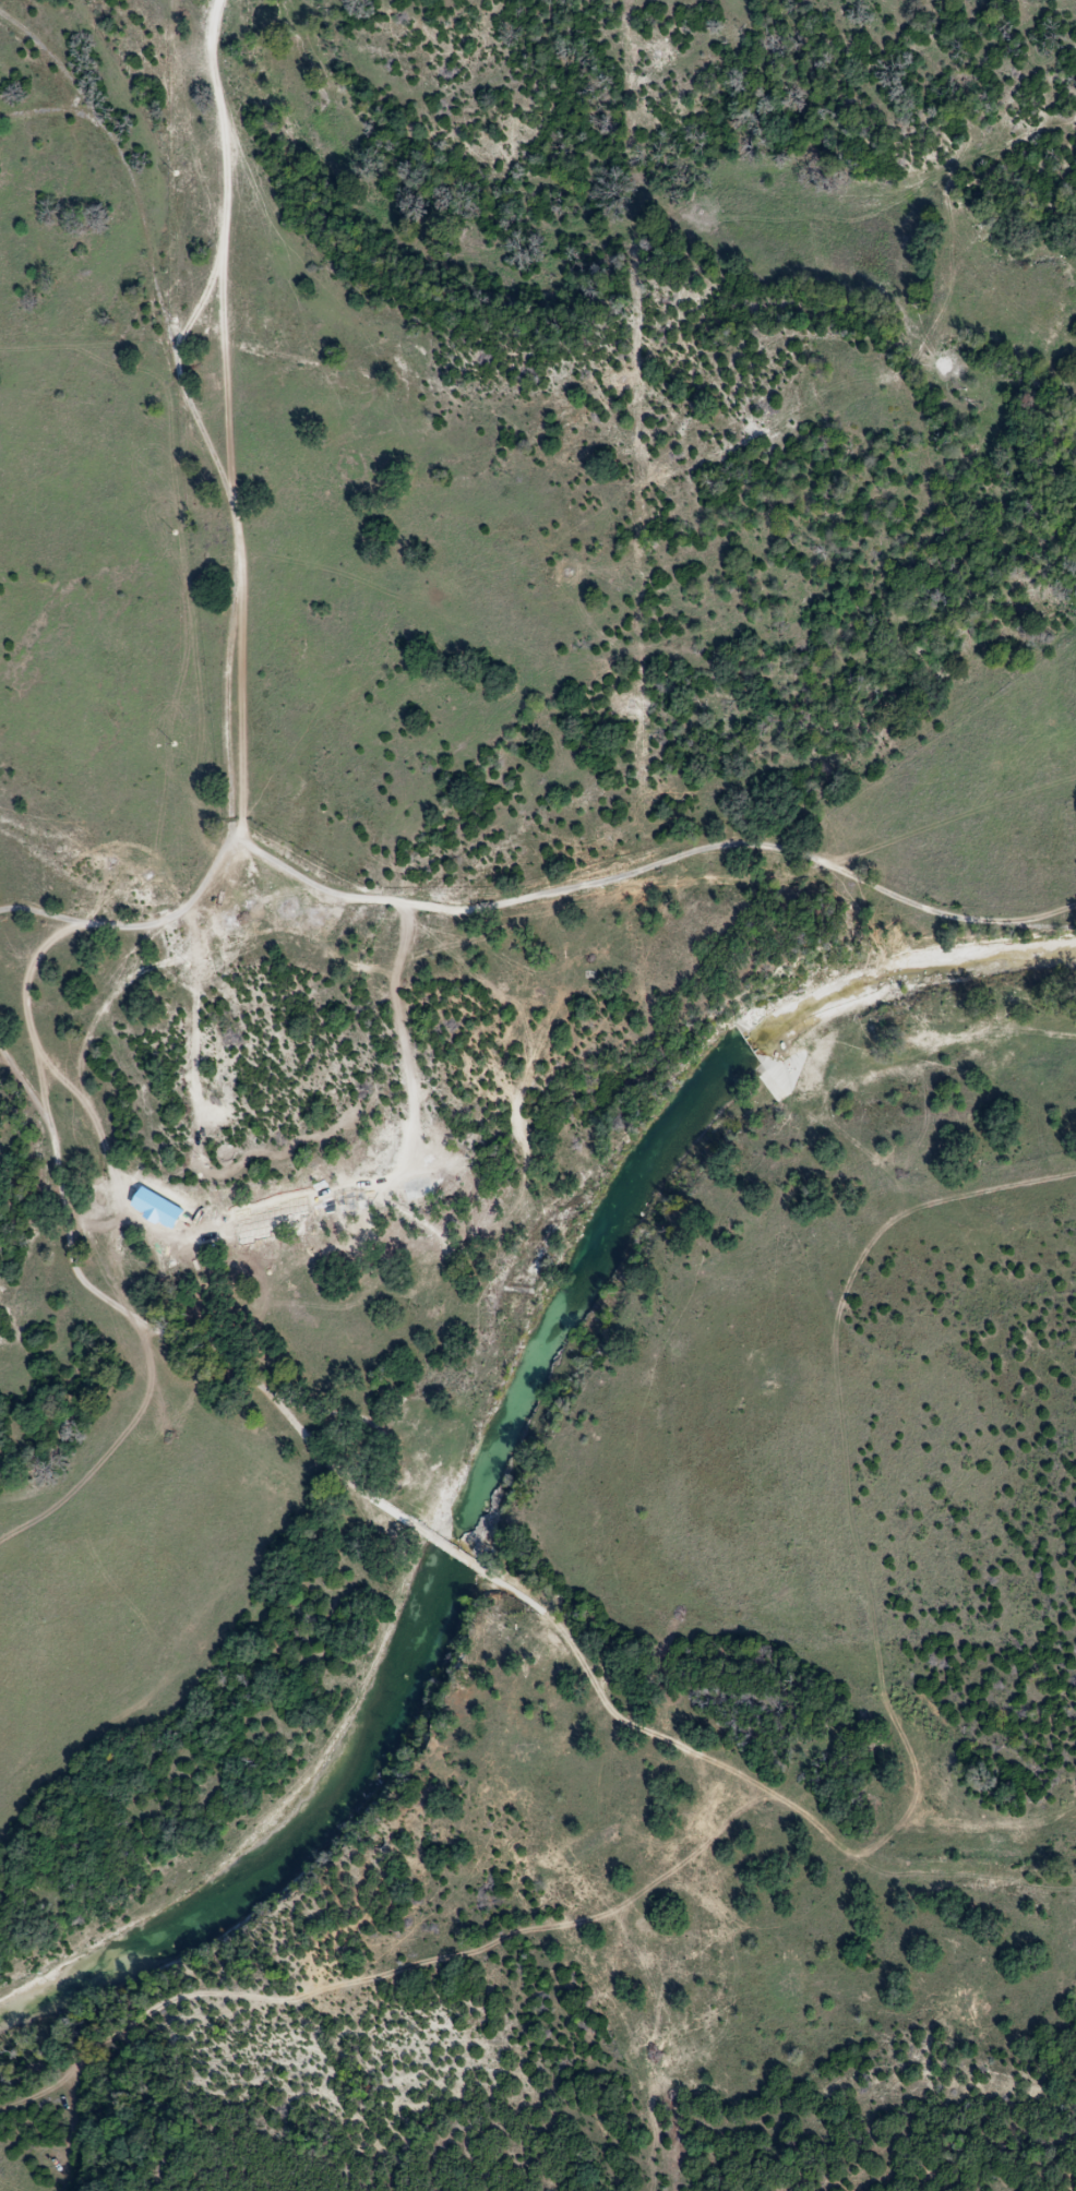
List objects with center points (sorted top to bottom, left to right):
road: (151, 439)
road: (537, 885)
road: (133, 1357)

